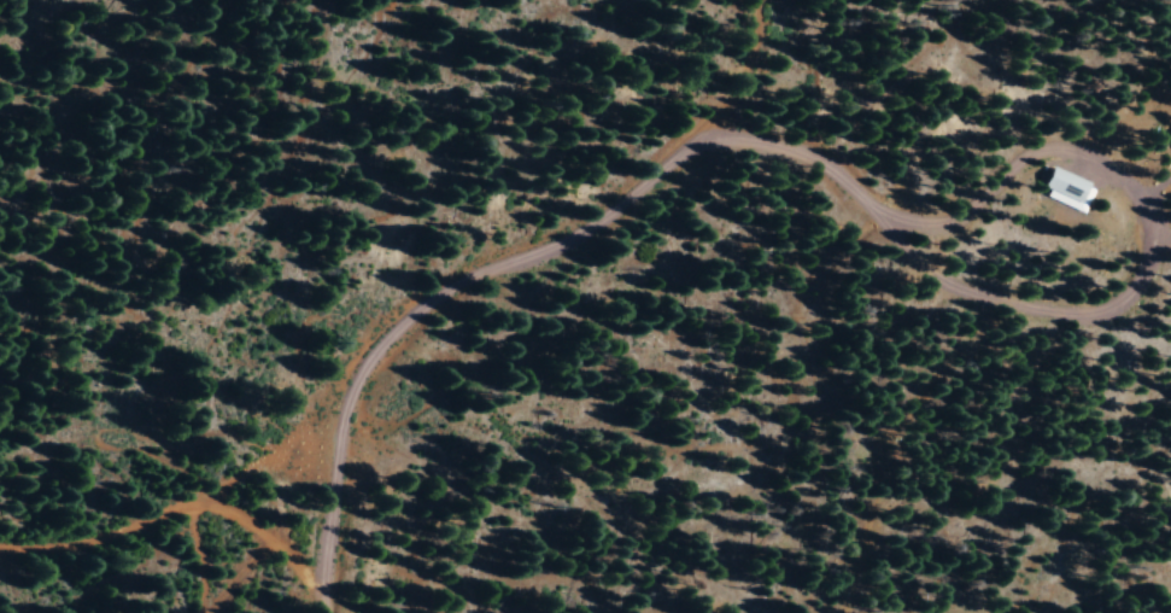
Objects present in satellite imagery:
building: (1071, 187)
road: (521, 275)
road: (267, 514)
road: (181, 533)
road: (356, 601)

